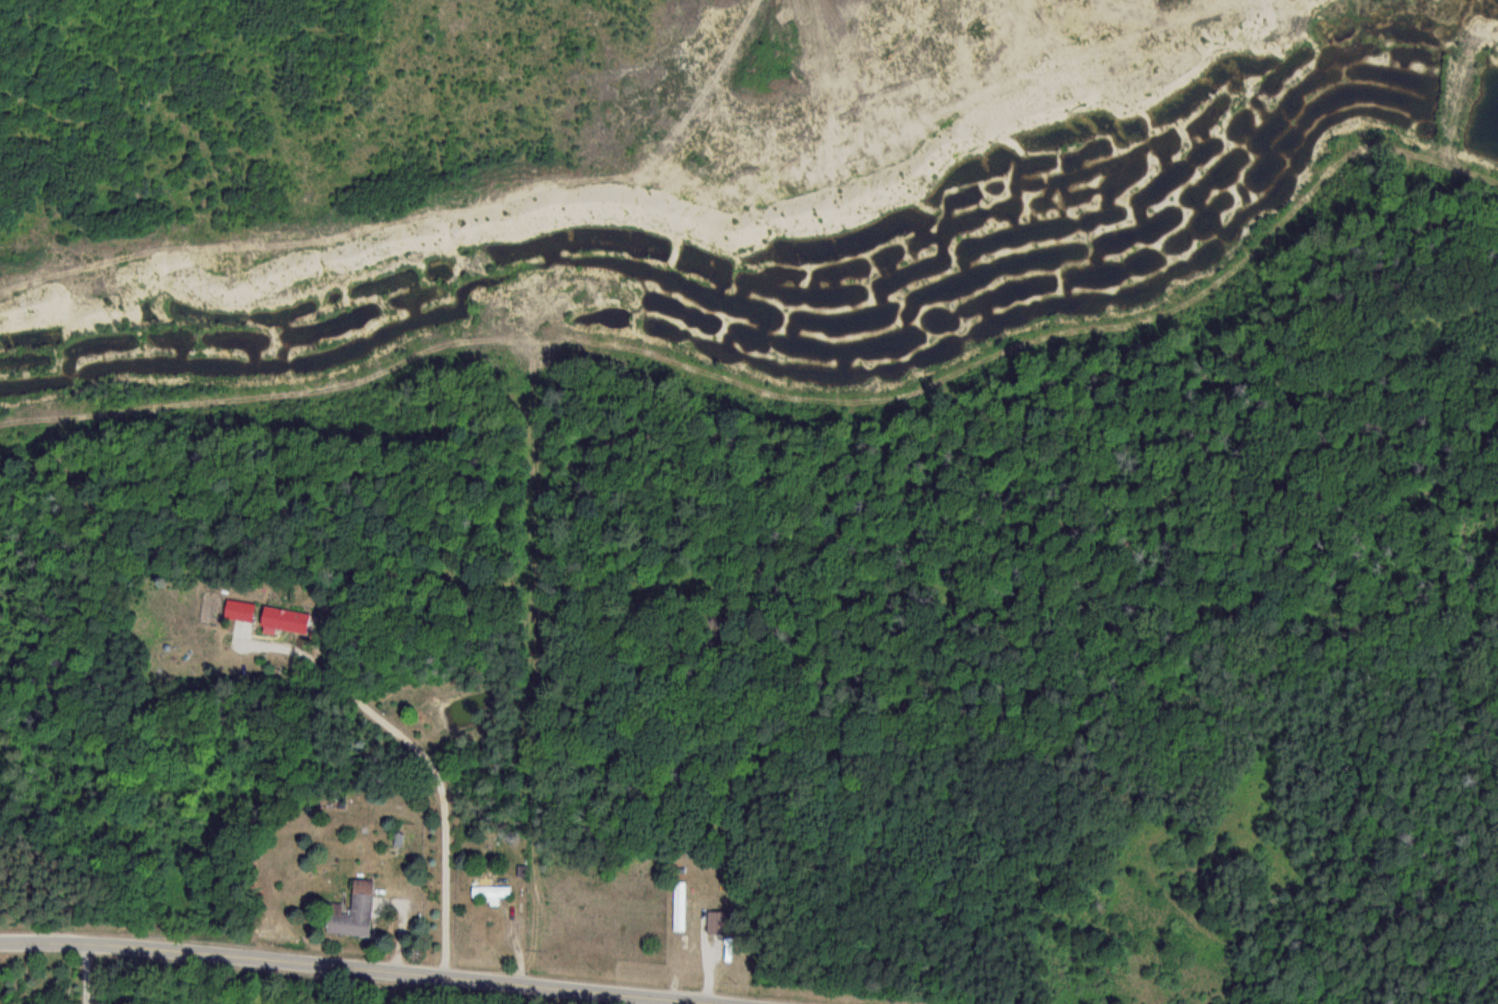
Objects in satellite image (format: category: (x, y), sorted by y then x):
building: (239, 611)
building: (283, 621)
road: (429, 761)
building: (487, 890)
building: (678, 906)
building: (351, 911)
road: (360, 968)
road: (85, 973)

